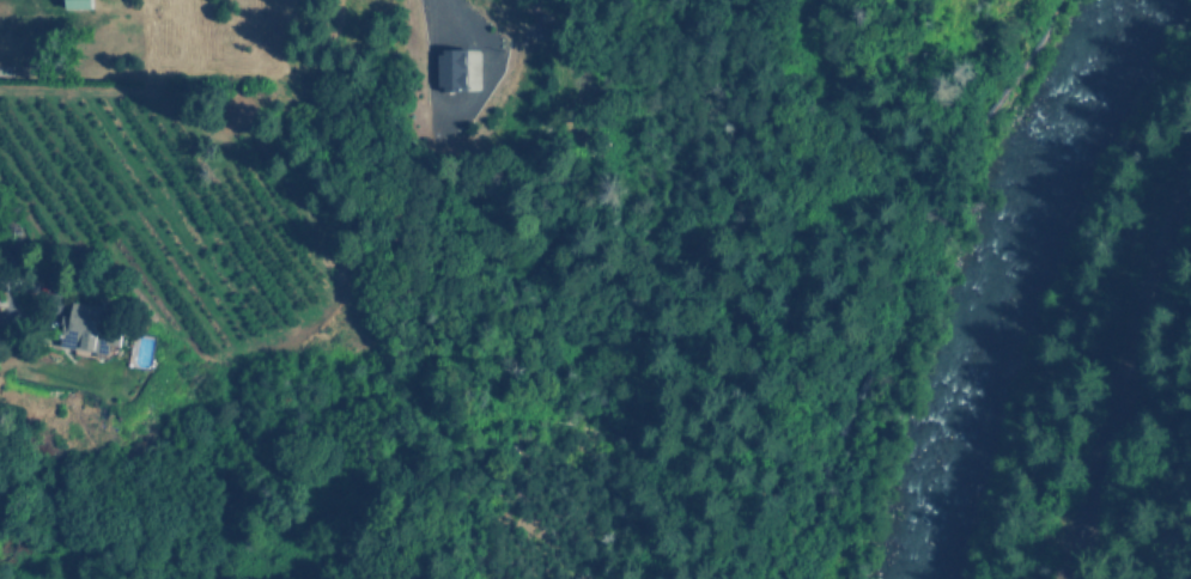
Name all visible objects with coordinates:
building: (80, 4)
building: (452, 69)
river: (1013, 284)
road: (914, 289)
road: (914, 289)
building: (89, 330)
railway: (1116, 365)

